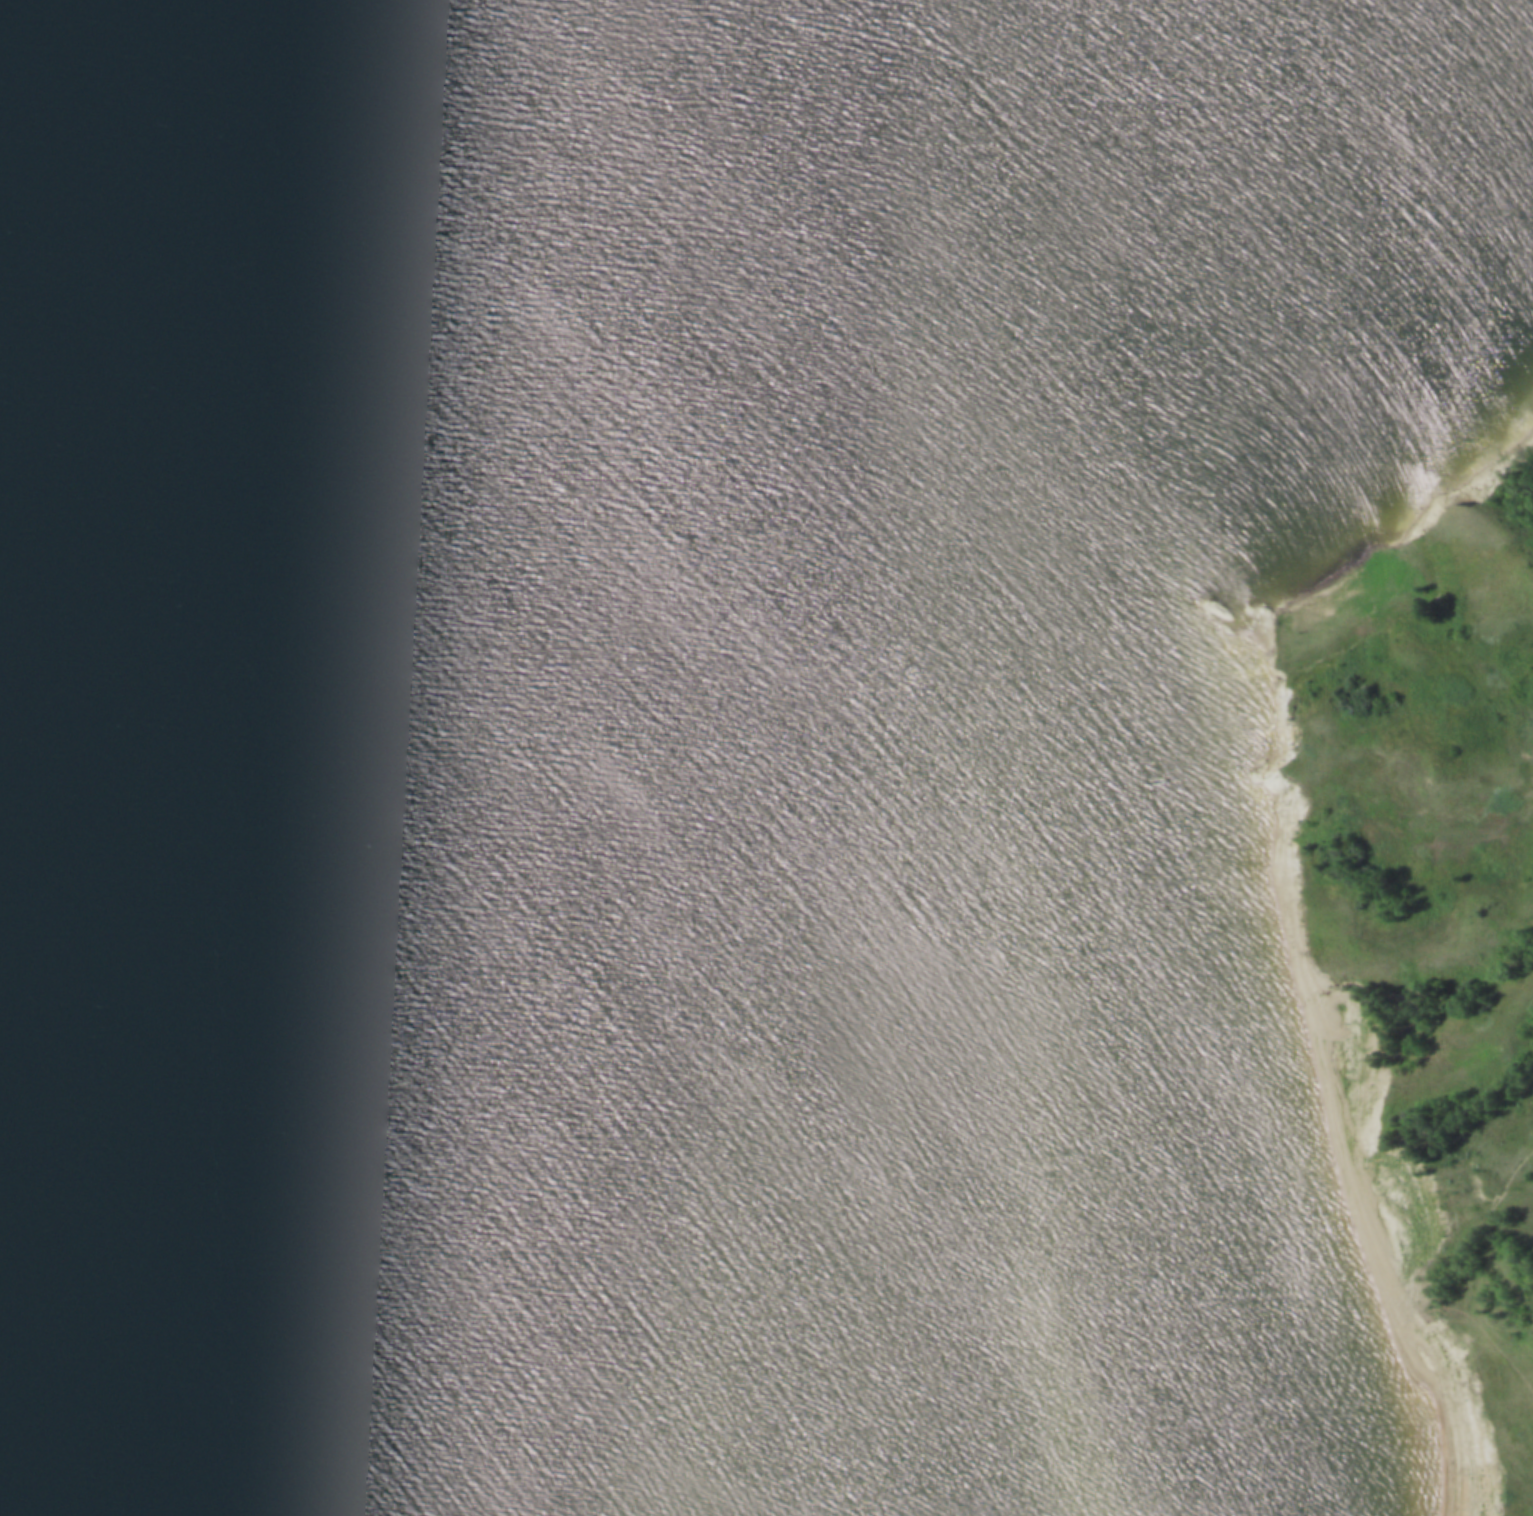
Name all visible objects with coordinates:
river: (11, 116)

